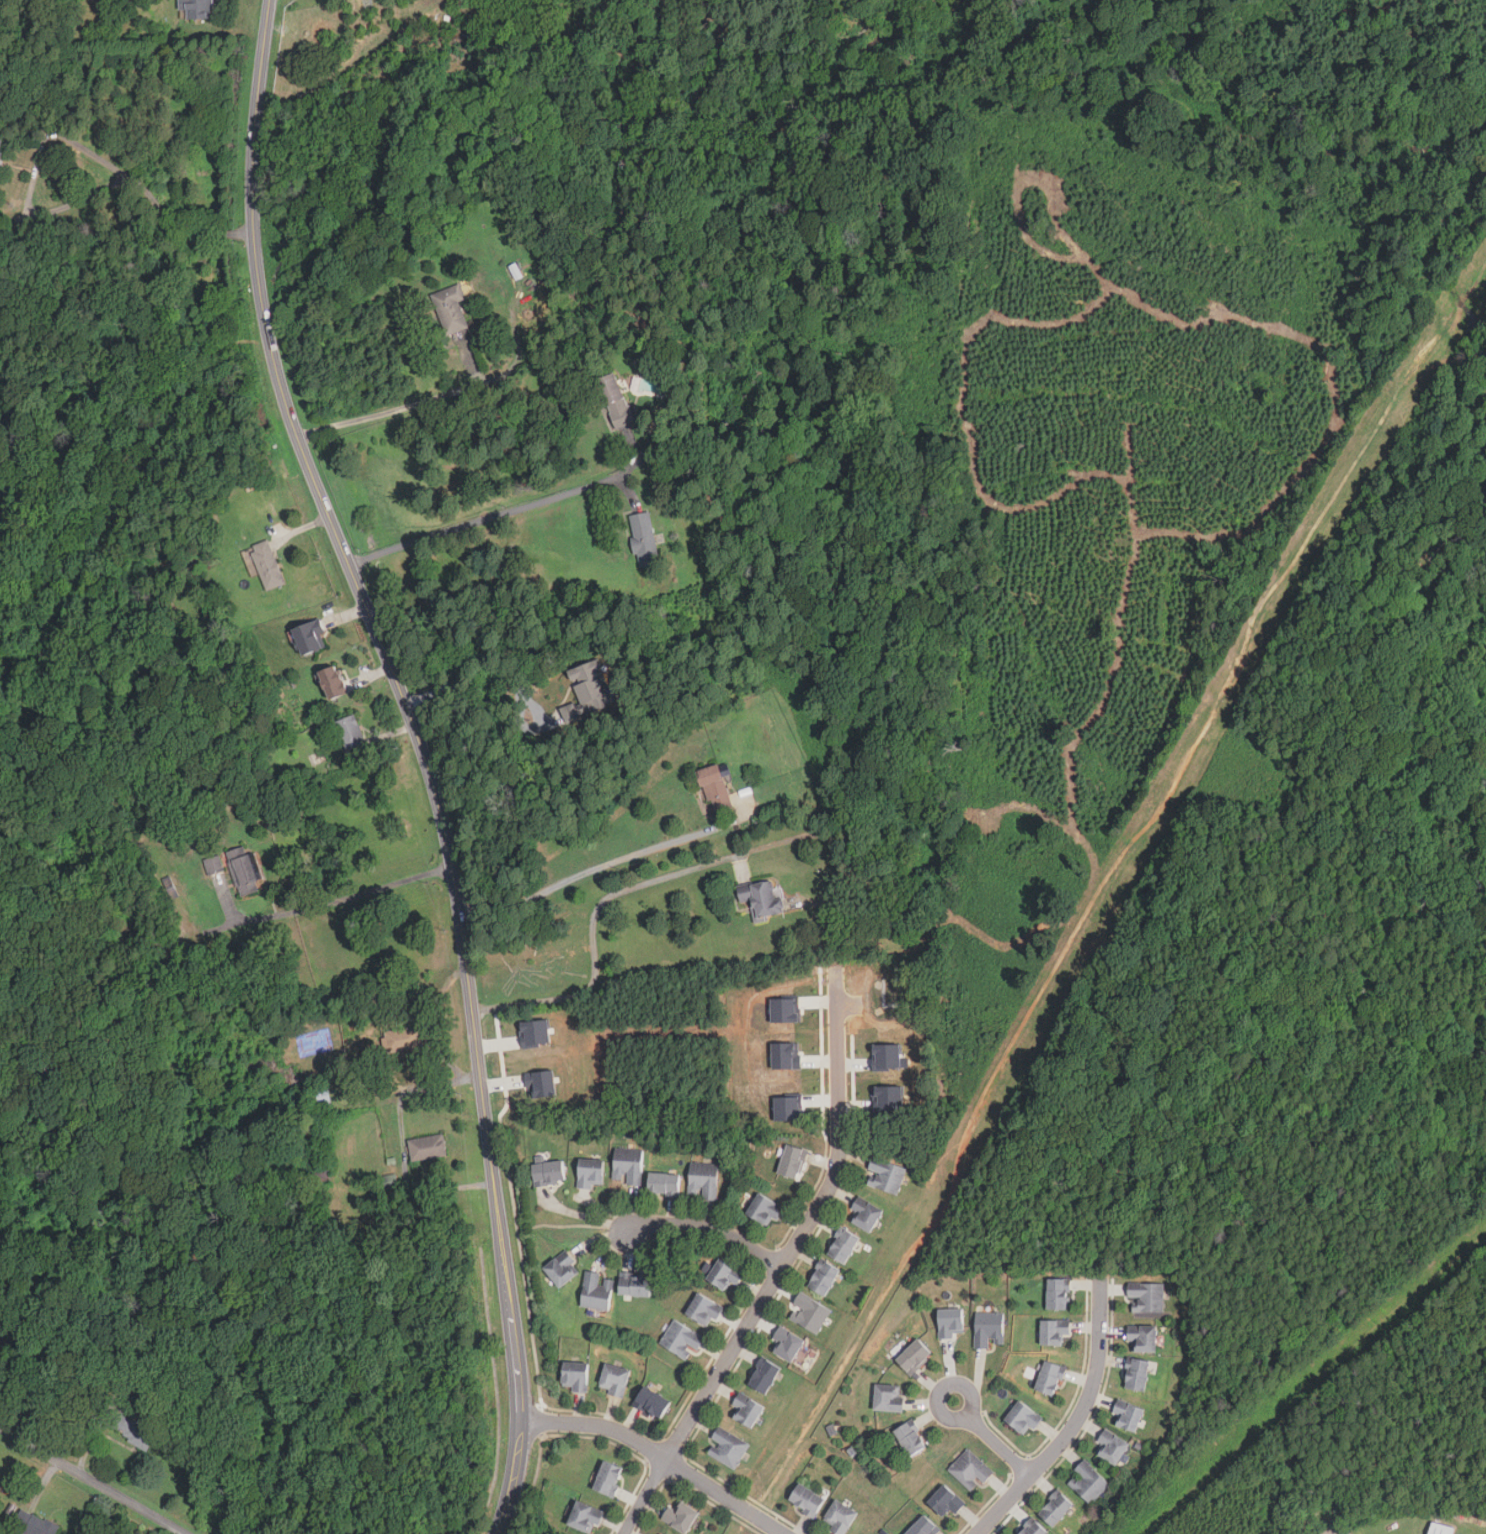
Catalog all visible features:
building: (198, 8)
building: (0, 136)
road: (73, 140)
building: (0, 142)
building: (451, 308)
building: (615, 400)
road: (405, 405)
road: (491, 513)
building: (644, 539)
building: (267, 564)
building: (310, 637)
building: (334, 682)
road: (472, 683)
building: (592, 683)
building: (351, 733)
road: (423, 757)
building: (715, 789)
building: (213, 865)
road: (596, 866)
building: (245, 870)
building: (761, 898)
road: (352, 908)
road: (593, 930)
building: (784, 1010)
building: (534, 1033)
building: (786, 1055)
building: (887, 1056)
road: (836, 1060)
building: (541, 1083)
road: (415, 1089)
building: (322, 1096)
building: (888, 1099)
building: (787, 1109)
building: (428, 1147)
building: (793, 1162)
building: (628, 1166)
building: (549, 1172)
building: (591, 1173)
building: (885, 1175)
building: (704, 1179)
building: (664, 1184)
building: (765, 1210)
building: (865, 1214)
road: (708, 1228)
building: (843, 1246)
building: (563, 1269)
building: (725, 1274)
building: (824, 1278)
building: (636, 1286)
building: (597, 1291)
building: (1058, 1295)
building: (1147, 1298)
building: (705, 1311)
building: (808, 1311)
building: (951, 1323)
building: (989, 1329)
building: (1054, 1332)
building: (681, 1338)
building: (1143, 1339)
building: (1, 1340)
road: (737, 1340)
building: (786, 1344)
building: (914, 1357)
building: (1137, 1374)
building: (575, 1376)
building: (764, 1376)
building: (614, 1379)
building: (1050, 1379)
building: (889, 1398)
building: (653, 1403)
building: (748, 1409)
building: (1129, 1415)
building: (1023, 1419)
road: (1078, 1421)
building: (130, 1428)
road: (993, 1438)
building: (911, 1439)
building: (727, 1447)
building: (1112, 1447)
road: (657, 1455)
building: (970, 1469)
building: (609, 1478)
road: (94, 1481)
building: (1089, 1482)
building: (807, 1499)
building: (946, 1501)
building: (1056, 1508)
building: (680, 1516)
building: (586, 1517)
building: (839, 1518)
building: (34, 1523)
building: (924, 1527)
building: (1034, 1529)
building: (1441, 1529)
building: (661, 1533)

